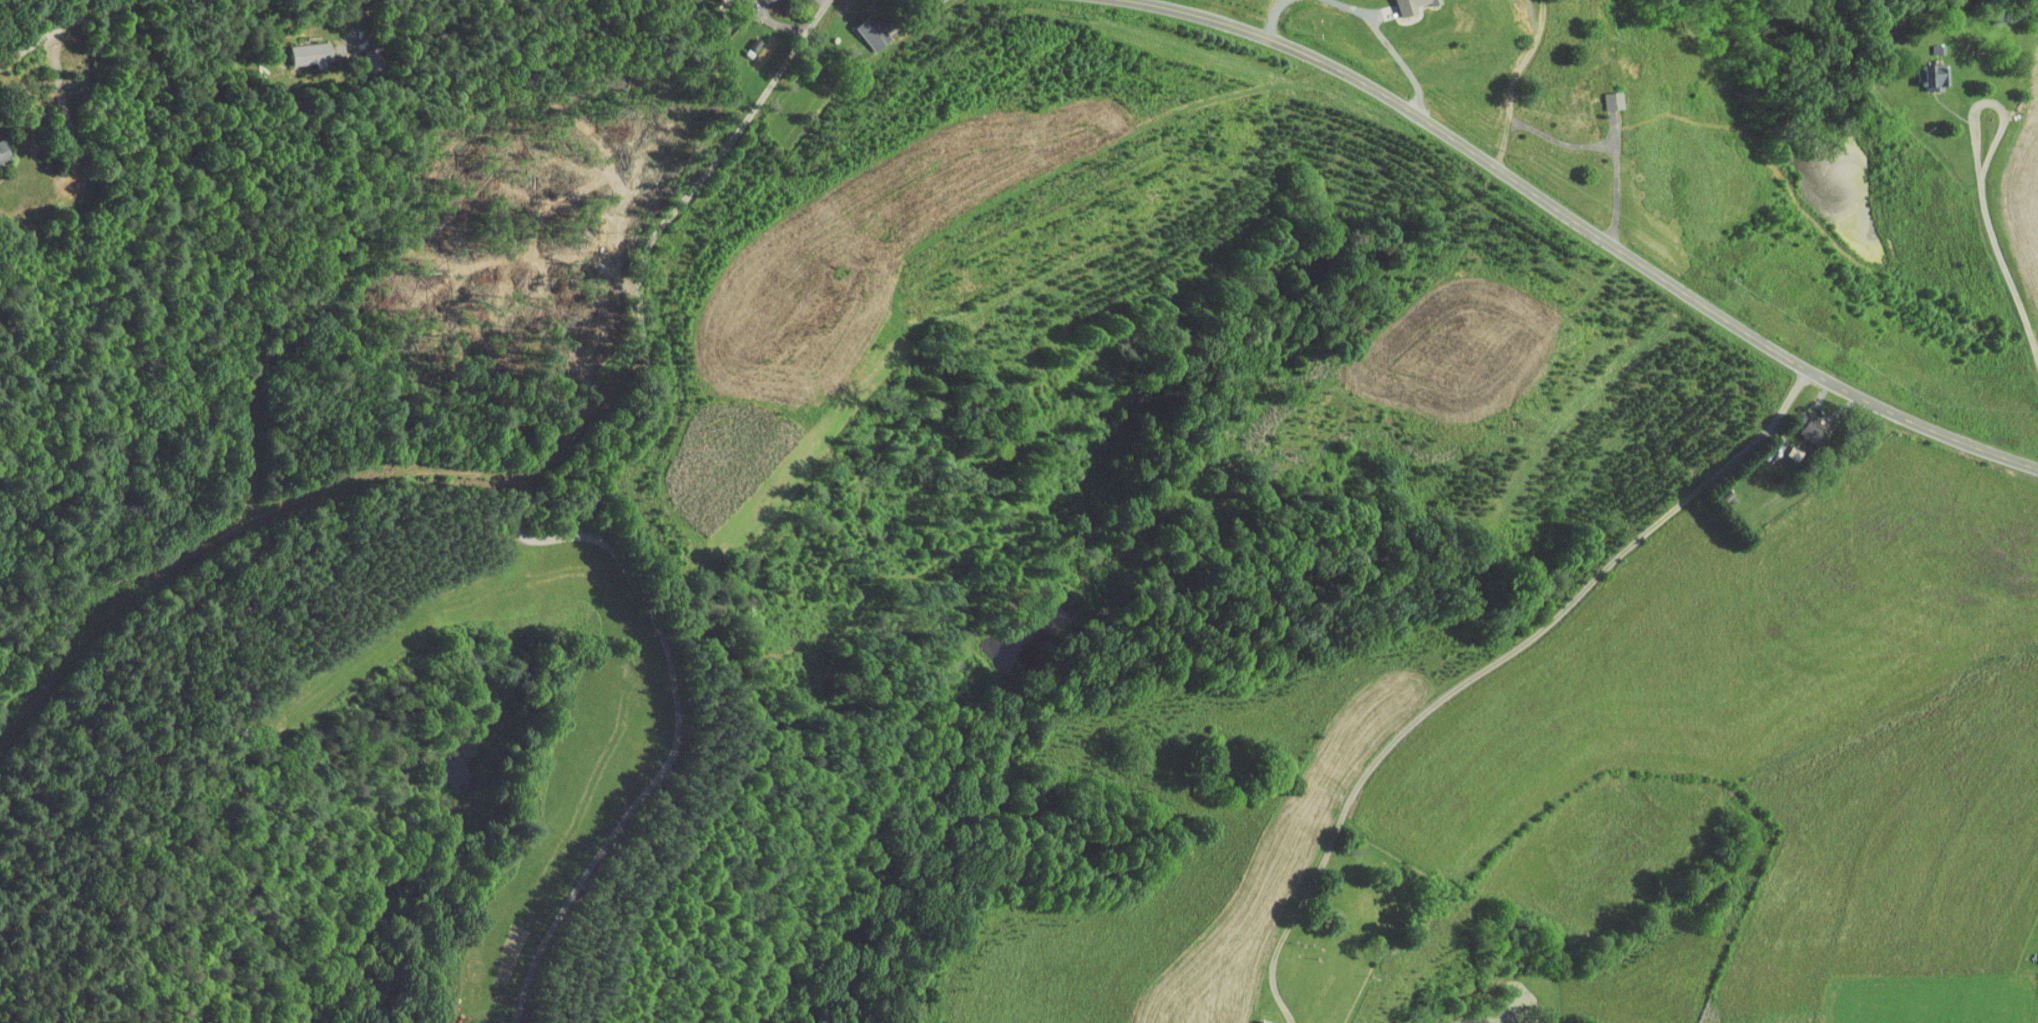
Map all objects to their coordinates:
building: (732, 0)
road: (357, 21)
building: (859, 25)
road: (66, 27)
building: (295, 48)
building: (1922, 70)
building: (1599, 94)
road: (1977, 95)
road: (1571, 138)
road: (1587, 226)
road: (2000, 281)
road: (527, 471)
road: (1488, 666)
road: (618, 727)
building: (1255, 1019)

